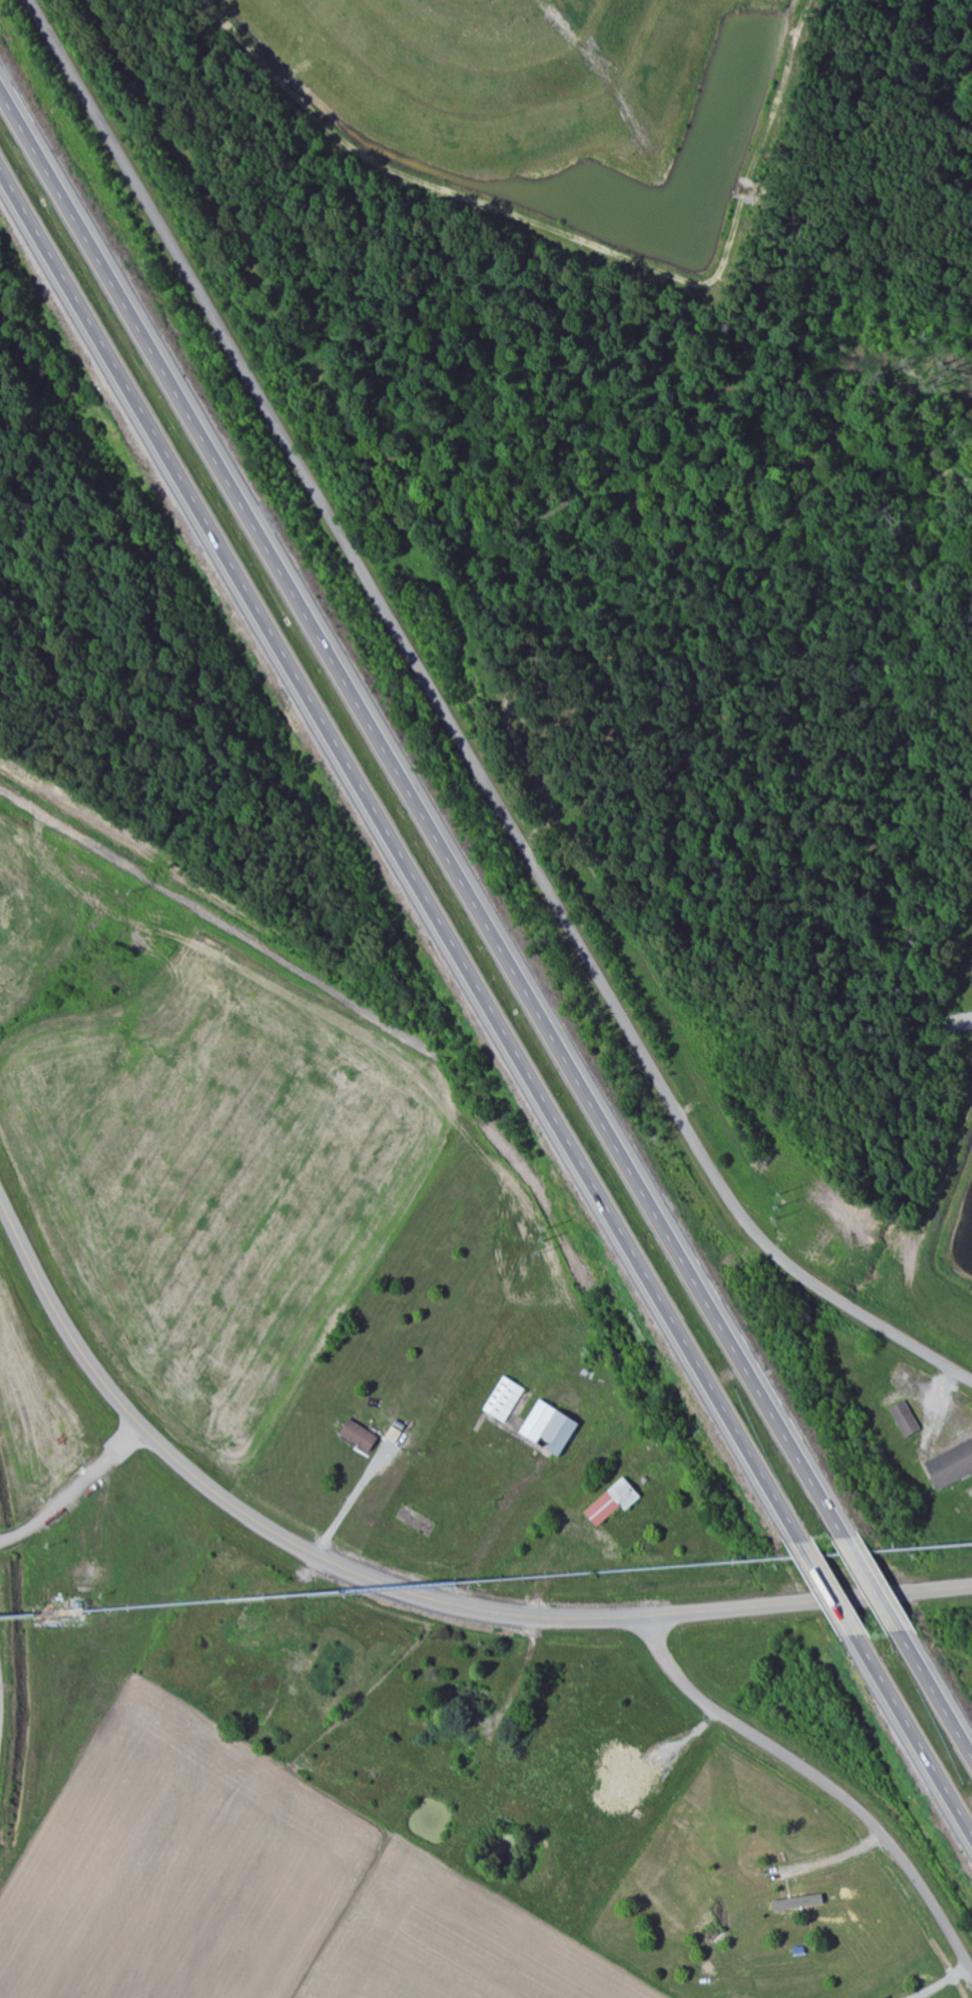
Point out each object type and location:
quarry: (605, 35)
road: (954, 98)
road: (455, 731)
road: (423, 814)
road: (399, 859)
building: (504, 1400)
building: (904, 1419)
building: (538, 1421)
building: (557, 1433)
building: (358, 1436)
building: (396, 1436)
building: (411, 1440)
building: (951, 1465)
road: (359, 1490)
building: (968, 1498)
building: (613, 1501)
building: (650, 1560)
road: (546, 1580)
road: (871, 1585)
road: (400, 1589)
road: (829, 1590)
road: (289, 1601)
building: (248, 1620)
building: (287, 1630)
building: (276, 1645)
building: (300, 1666)
road: (521, 1675)
building: (294, 1689)
road: (935, 1692)
building: (470, 1695)
building: (244, 1713)
building: (417, 1723)
road: (914, 1736)
road: (673, 1747)
building: (478, 1759)
building: (627, 1764)
road: (821, 1780)
building: (799, 1904)
building: (799, 1950)
building: (691, 1972)

